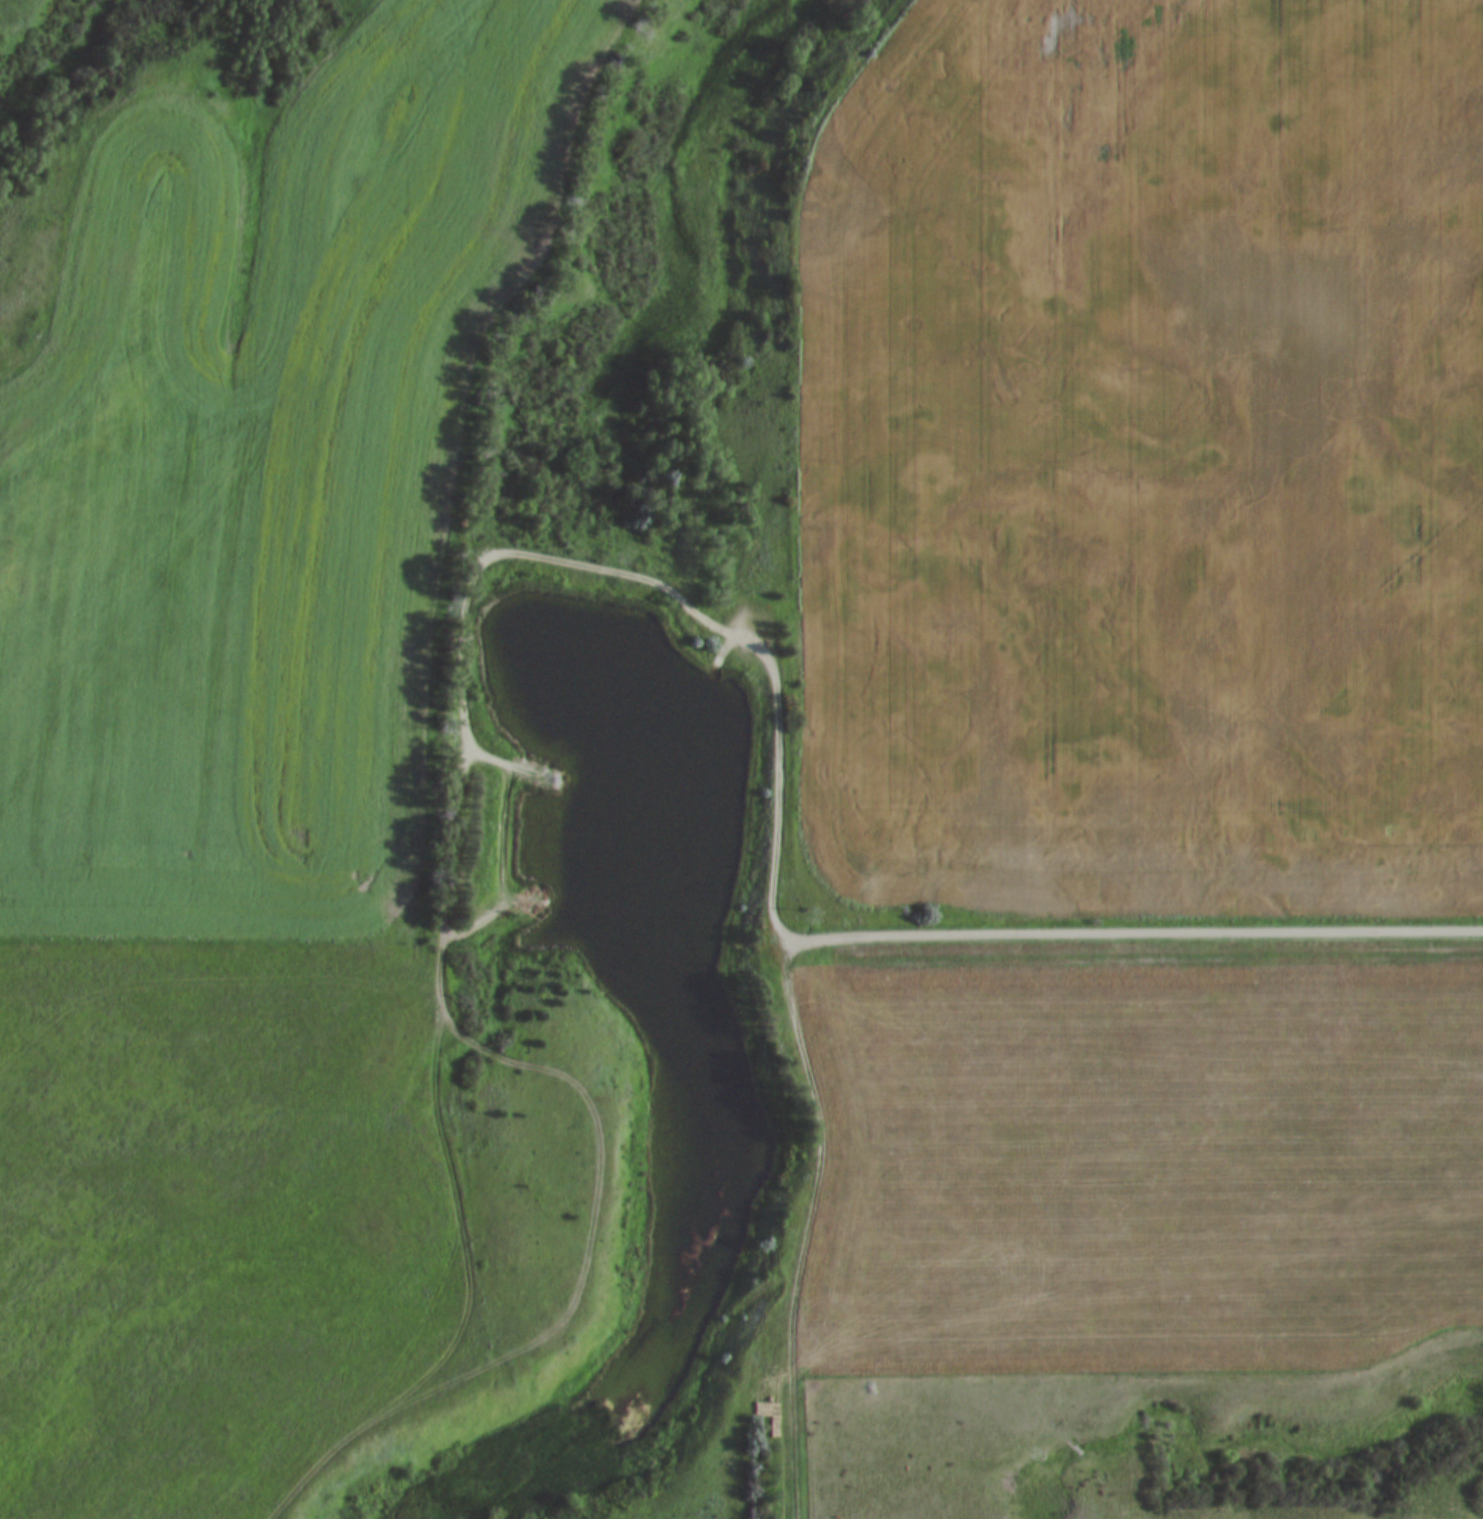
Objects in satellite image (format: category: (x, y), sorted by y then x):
road: (543, 548)
dam: (577, 587)
road: (724, 645)
road: (509, 757)
road: (774, 802)
road: (1140, 933)
road: (438, 962)
road: (807, 1228)

